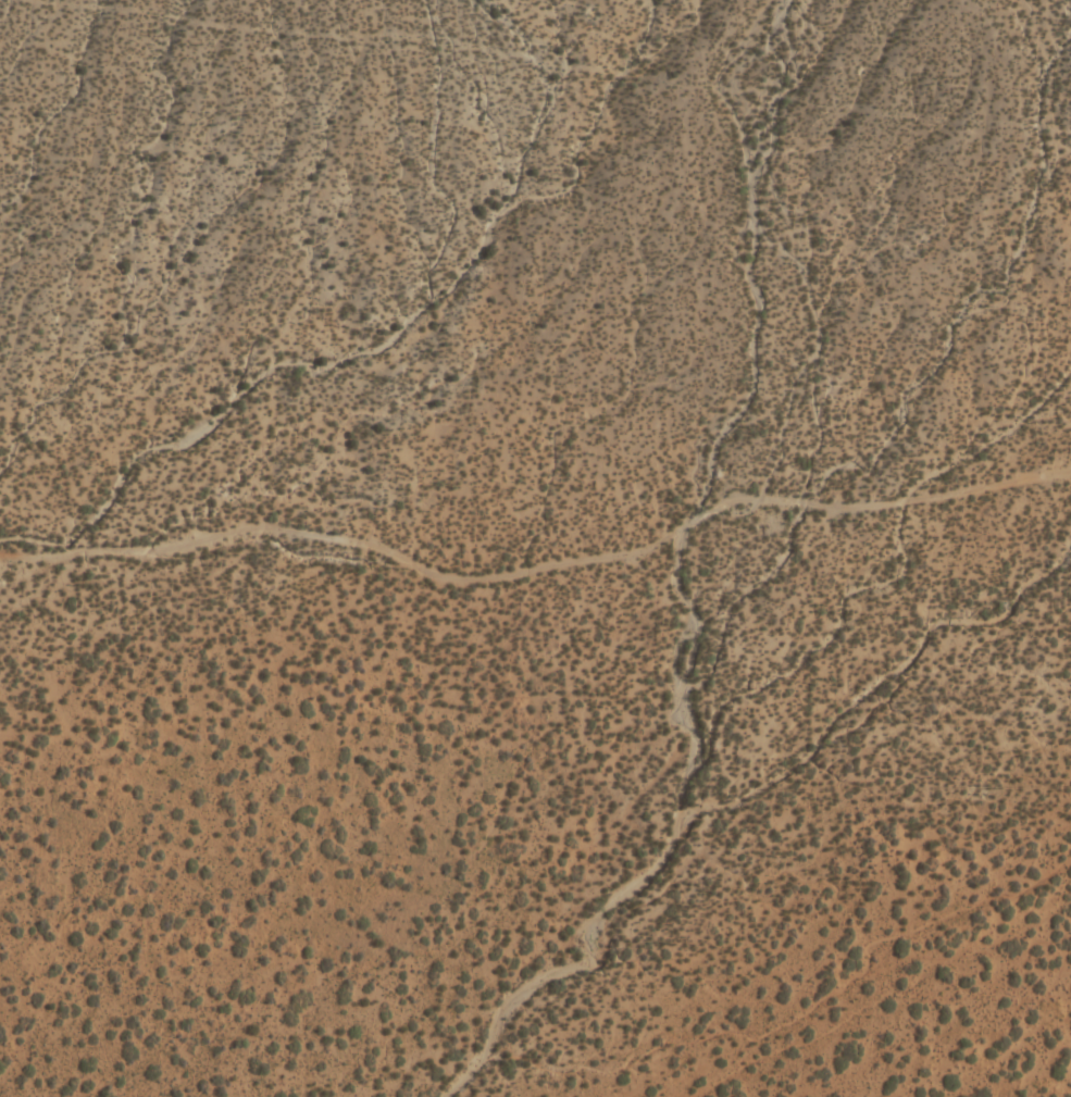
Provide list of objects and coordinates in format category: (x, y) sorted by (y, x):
road: (1062, 406)

